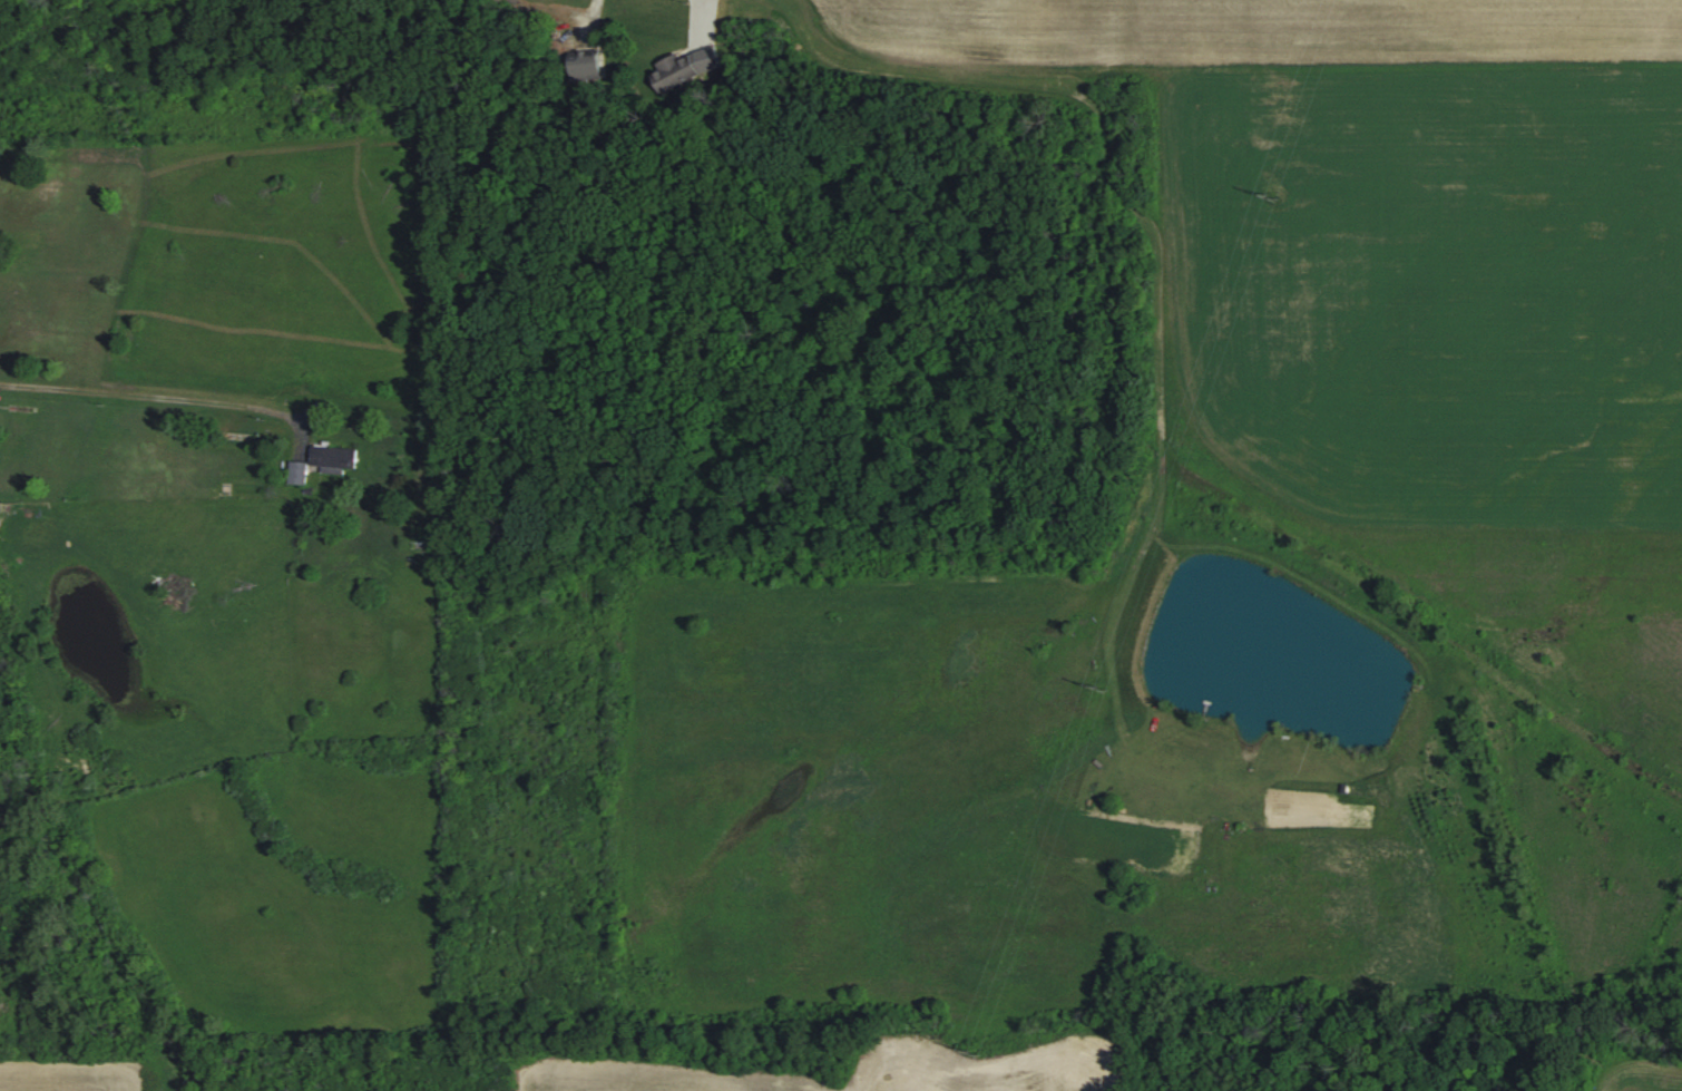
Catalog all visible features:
building: (589, 65)
building: (679, 69)
power tower: (1277, 199)
road: (135, 397)
road: (299, 416)
building: (338, 457)
building: (300, 470)
building: (427, 536)
power tower: (1109, 692)
power tower: (974, 1054)

